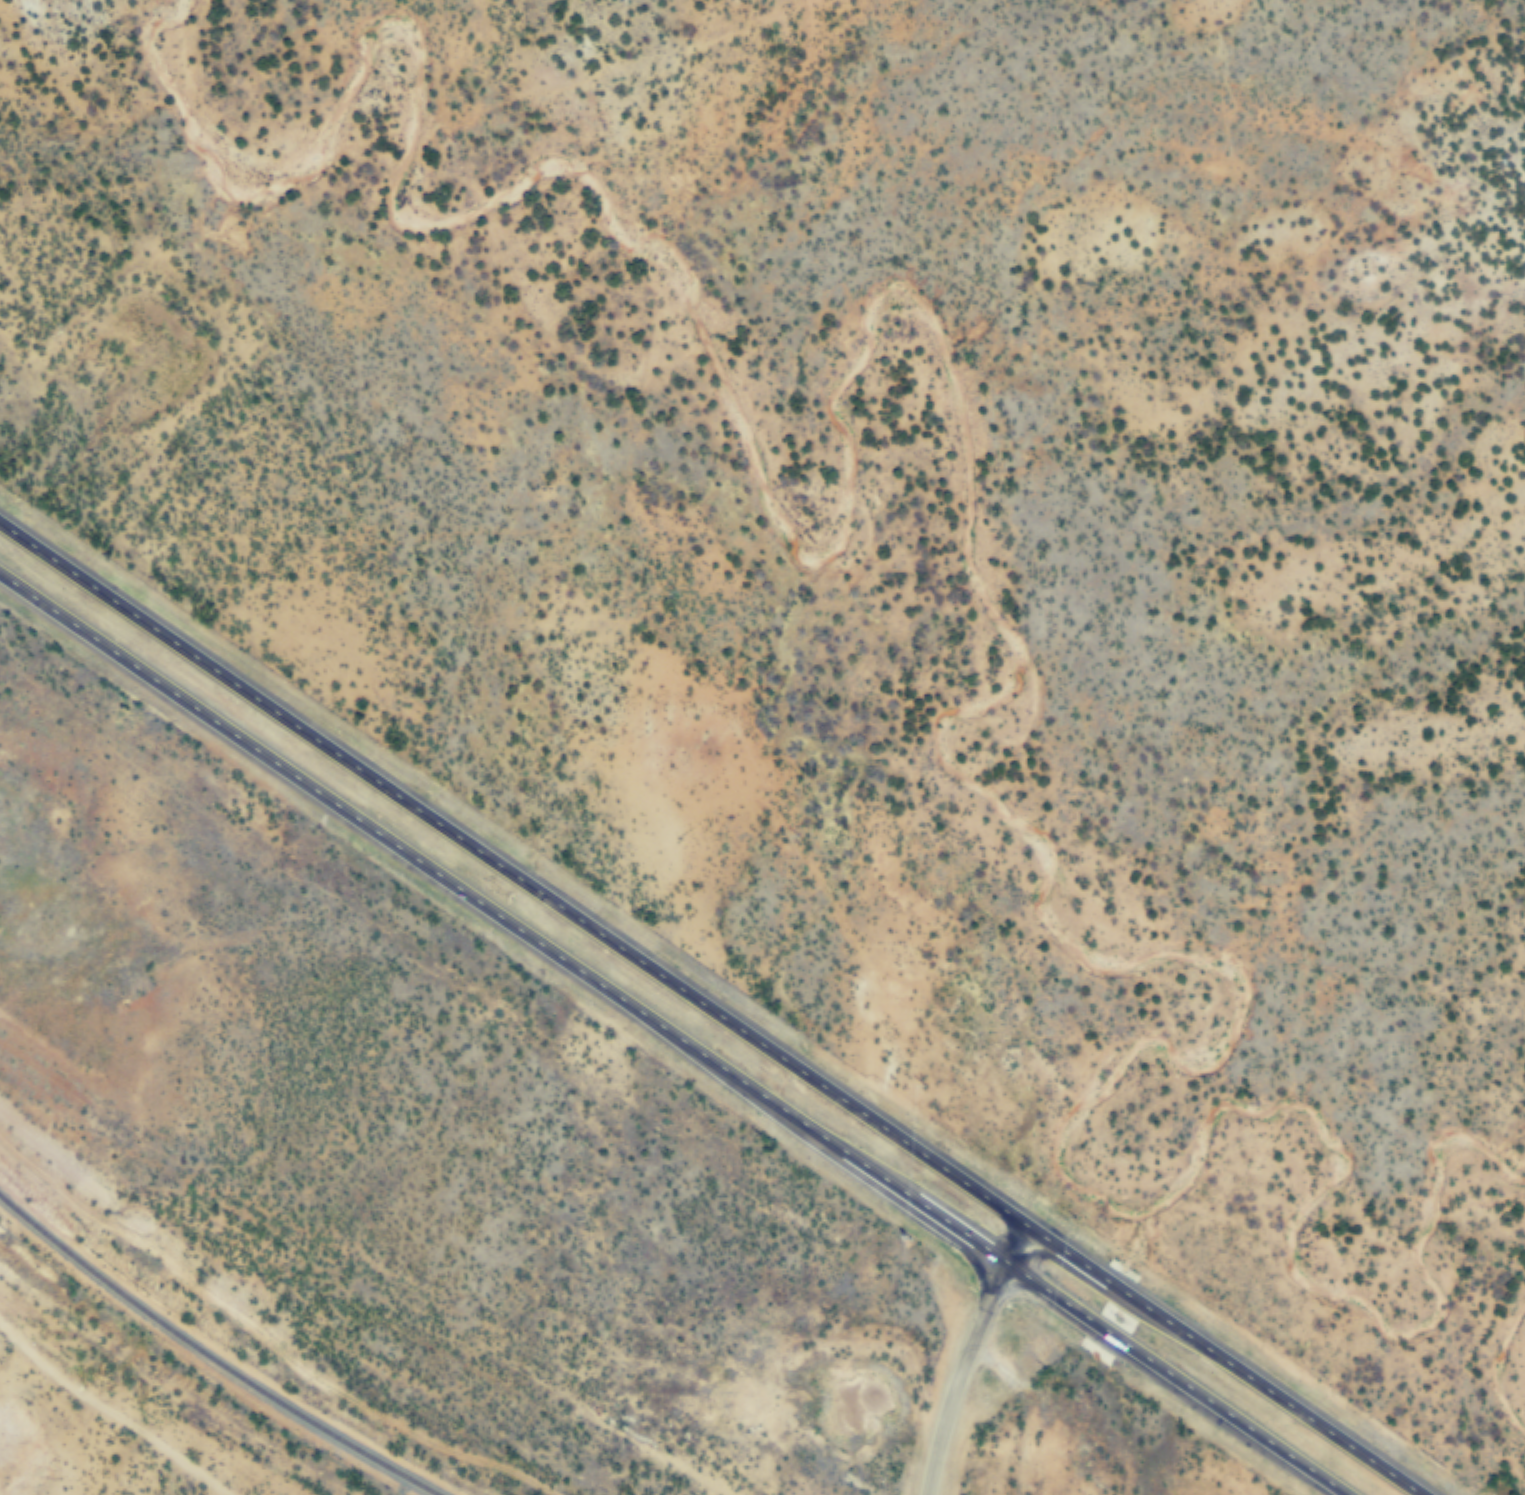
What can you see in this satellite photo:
road: (712, 1009)
road: (673, 1036)
road: (968, 1356)
railway: (209, 1357)
road: (108, 1409)

